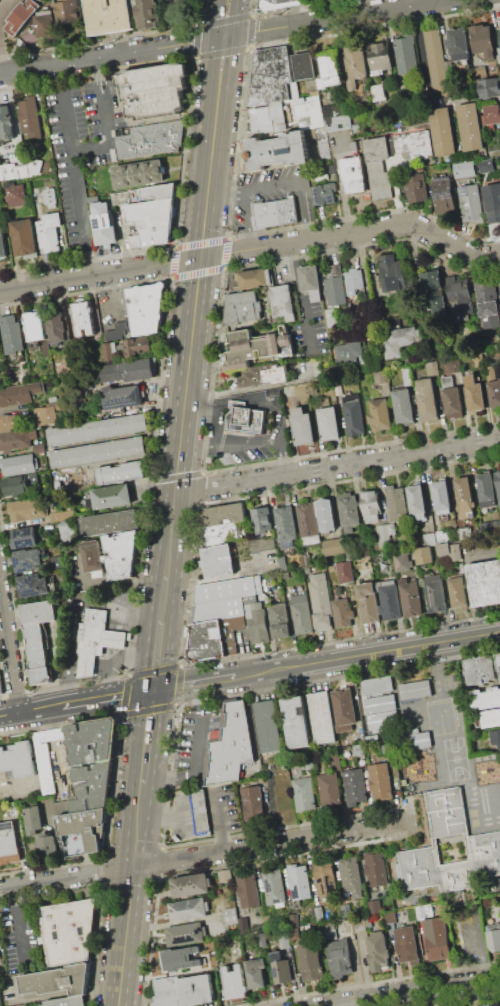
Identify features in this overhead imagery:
building: (278, 4)
building: (68, 11)
building: (148, 13)
building: (21, 15)
building: (108, 16)
road: (338, 17)
building: (46, 23)
building: (499, 32)
traffic signals: (233, 35)
traffic signals: (216, 37)
building: (483, 40)
building: (458, 42)
road: (421, 44)
road: (215, 46)
road: (230, 46)
building: (499, 49)
road: (116, 53)
building: (406, 54)
building: (435, 57)
building: (380, 58)
building: (499, 58)
building: (303, 65)
building: (355, 65)
building: (329, 70)
building: (271, 75)
building: (489, 87)
building: (155, 90)
building: (378, 92)
building: (315, 93)
building: (335, 110)
building: (307, 112)
building: (492, 114)
building: (29, 117)
building: (269, 118)
road: (105, 120)
building: (337, 122)
building: (6, 123)
building: (470, 126)
building: (355, 127)
building: (442, 131)
building: (151, 139)
building: (413, 144)
building: (354, 146)
parking lot: (81, 149)
building: (277, 150)
building: (494, 150)
building: (378, 167)
building: (20, 169)
building: (332, 171)
building: (138, 173)
building: (352, 174)
road: (74, 183)
building: (416, 187)
road: (280, 189)
building: (15, 193)
building: (324, 193)
building: (443, 194)
building: (49, 197)
building: (492, 202)
building: (470, 203)
building: (149, 211)
building: (275, 212)
building: (105, 228)
building: (49, 232)
building: (25, 238)
building: (135, 240)
building: (2, 244)
road: (253, 248)
traffic signals: (200, 257)
building: (393, 273)
building: (253, 279)
building: (499, 280)
building: (310, 281)
building: (354, 282)
building: (335, 290)
road: (301, 295)
building: (435, 295)
building: (460, 297)
building: (487, 301)
building: (283, 302)
building: (242, 307)
building: (143, 309)
building: (83, 317)
building: (331, 317)
building: (35, 325)
building: (57, 327)
building: (119, 330)
road: (191, 330)
building: (12, 334)
building: (398, 340)
building: (135, 347)
building: (257, 347)
building: (46, 348)
building: (0, 349)
building: (109, 350)
building: (348, 353)
building: (478, 359)
building: (454, 365)
building: (431, 368)
building: (127, 370)
building: (265, 375)
building: (407, 375)
building: (380, 376)
building: (150, 389)
building: (272, 392)
building: (19, 393)
building: (474, 393)
building: (494, 393)
building: (451, 396)
building: (123, 397)
building: (427, 399)
road: (201, 402)
road: (264, 405)
building: (403, 405)
building: (47, 413)
building: (379, 414)
building: (354, 415)
building: (244, 420)
building: (8, 422)
road: (216, 423)
building: (329, 423)
building: (302, 426)
building: (98, 430)
building: (14, 440)
road: (229, 442)
building: (39, 448)
building: (98, 452)
road: (284, 455)
building: (18, 464)
road: (337, 466)
building: (122, 472)
building: (19, 483)
building: (497, 484)
building: (487, 490)
building: (112, 496)
building: (442, 496)
building: (465, 497)
building: (417, 501)
building: (397, 503)
building: (371, 505)
building: (23, 508)
building: (349, 511)
building: (225, 514)
building: (325, 515)
building: (60, 516)
building: (262, 518)
building: (109, 522)
building: (308, 522)
building: (286, 525)
building: (490, 525)
building: (68, 532)
building: (222, 533)
building: (464, 533)
building: (385, 535)
building: (442, 536)
building: (24, 537)
building: (430, 539)
building: (261, 543)
building: (333, 546)
building: (444, 548)
building: (455, 552)
building: (357, 553)
building: (121, 554)
building: (424, 555)
building: (27, 559)
building: (93, 559)
building: (219, 560)
building: (306, 560)
building: (58, 561)
building: (401, 561)
building: (284, 562)
building: (345, 571)
building: (286, 574)
building: (484, 582)
building: (33, 585)
building: (458, 591)
building: (435, 592)
building: (389, 594)
building: (410, 597)
building: (321, 601)
building: (342, 612)
building: (302, 613)
road: (131, 614)
building: (228, 620)
building: (279, 620)
building: (257, 623)
road: (159, 629)
building: (38, 637)
building: (95, 640)
road: (10, 646)
road: (368, 653)
building: (499, 659)
building: (479, 669)
road: (194, 682)
building: (377, 685)
building: (1, 686)
building: (415, 689)
traffic signals: (153, 690)
building: (485, 698)
road: (76, 702)
building: (380, 704)
building: (344, 709)
building: (322, 717)
building: (491, 717)
building: (383, 719)
building: (296, 722)
building: (268, 726)
building: (495, 736)
building: (420, 740)
road: (146, 742)
building: (231, 745)
building: (358, 749)
road: (197, 754)
building: (18, 759)
building: (309, 761)
building: (81, 778)
building: (380, 780)
building: (355, 787)
building: (330, 789)
building: (304, 793)
building: (253, 802)
building: (62, 806)
building: (14, 807)
building: (201, 812)
road: (220, 819)
building: (34, 820)
road: (137, 831)
building: (483, 841)
building: (9, 843)
building: (49, 845)
road: (202, 854)
building: (376, 868)
building: (225, 875)
building: (351, 876)
building: (324, 877)
building: (299, 882)
building: (190, 885)
building: (274, 887)
building: (249, 890)
building: (374, 906)
building: (187, 909)
building: (346, 910)
building: (429, 910)
building: (420, 912)
building: (318, 913)
building: (231, 915)
building: (390, 916)
building: (268, 920)
building: (362, 923)
road: (18, 925)
building: (243, 928)
building: (69, 930)
building: (185, 934)
building: (294, 934)
road: (125, 936)
building: (436, 938)
building: (493, 940)
building: (284, 941)
building: (406, 944)
road: (481, 945)
building: (0, 946)
building: (377, 950)
building: (181, 958)
building: (339, 958)
building: (311, 961)
building: (281, 968)
building: (256, 972)
building: (58, 980)
building: (234, 982)
road: (414, 990)
building: (183, 991)
building: (68, 1001)
building: (488, 1005)

